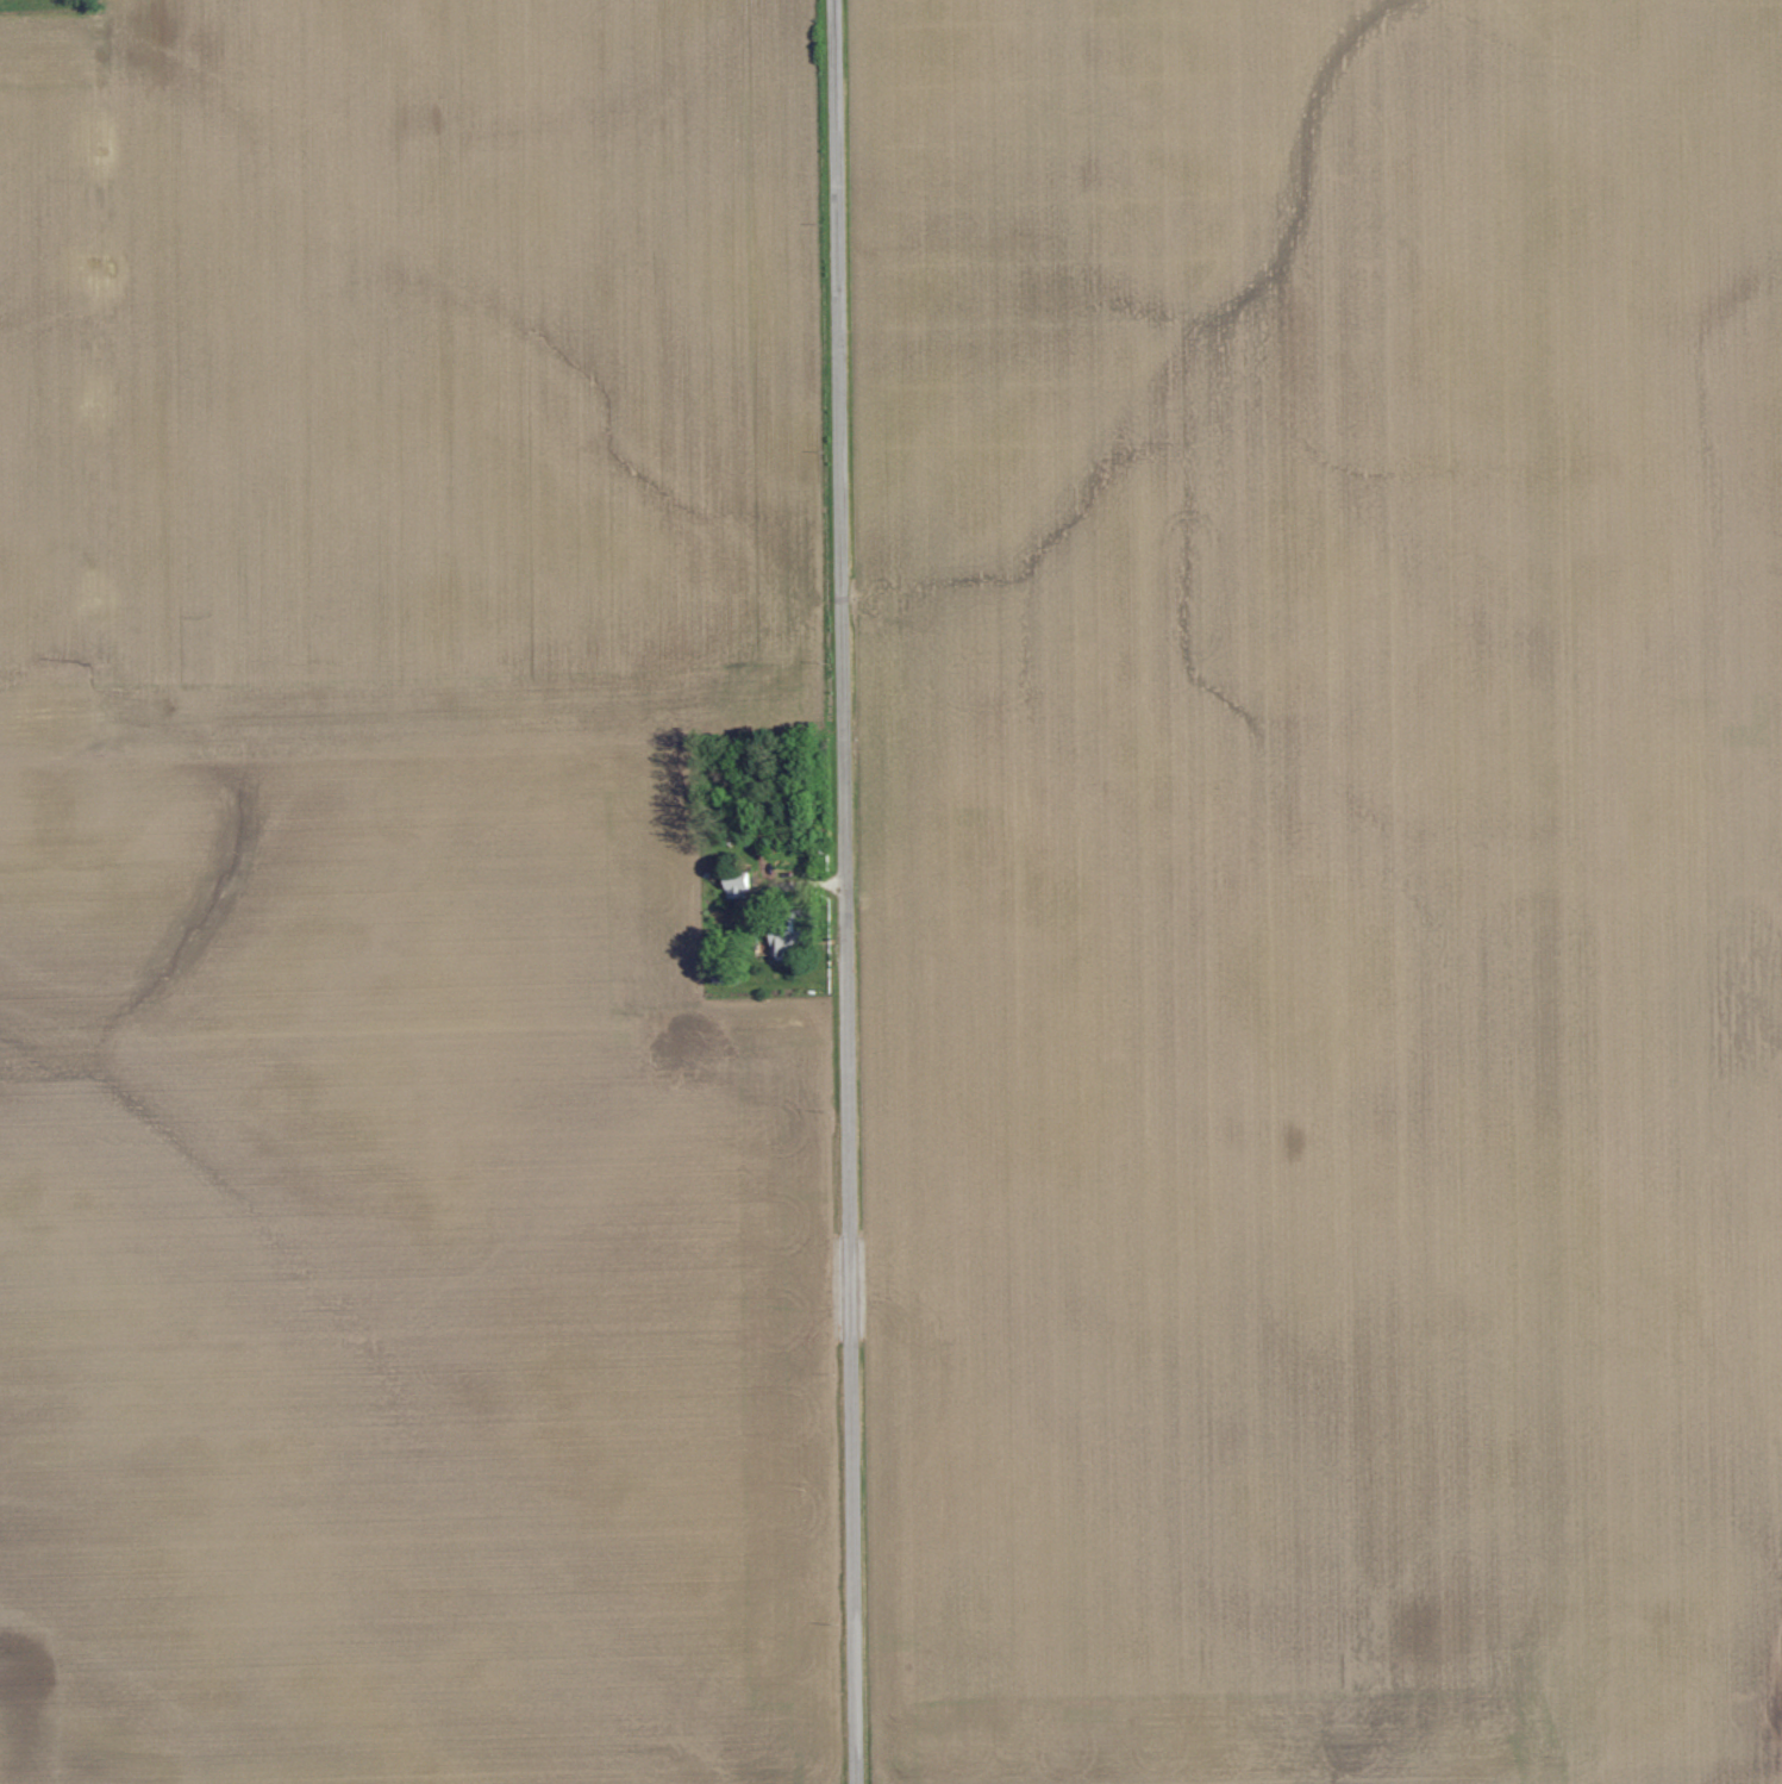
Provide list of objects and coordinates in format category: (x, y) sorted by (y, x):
crop: (45, 382)
building: (740, 881)
road: (844, 892)
building: (795, 934)

